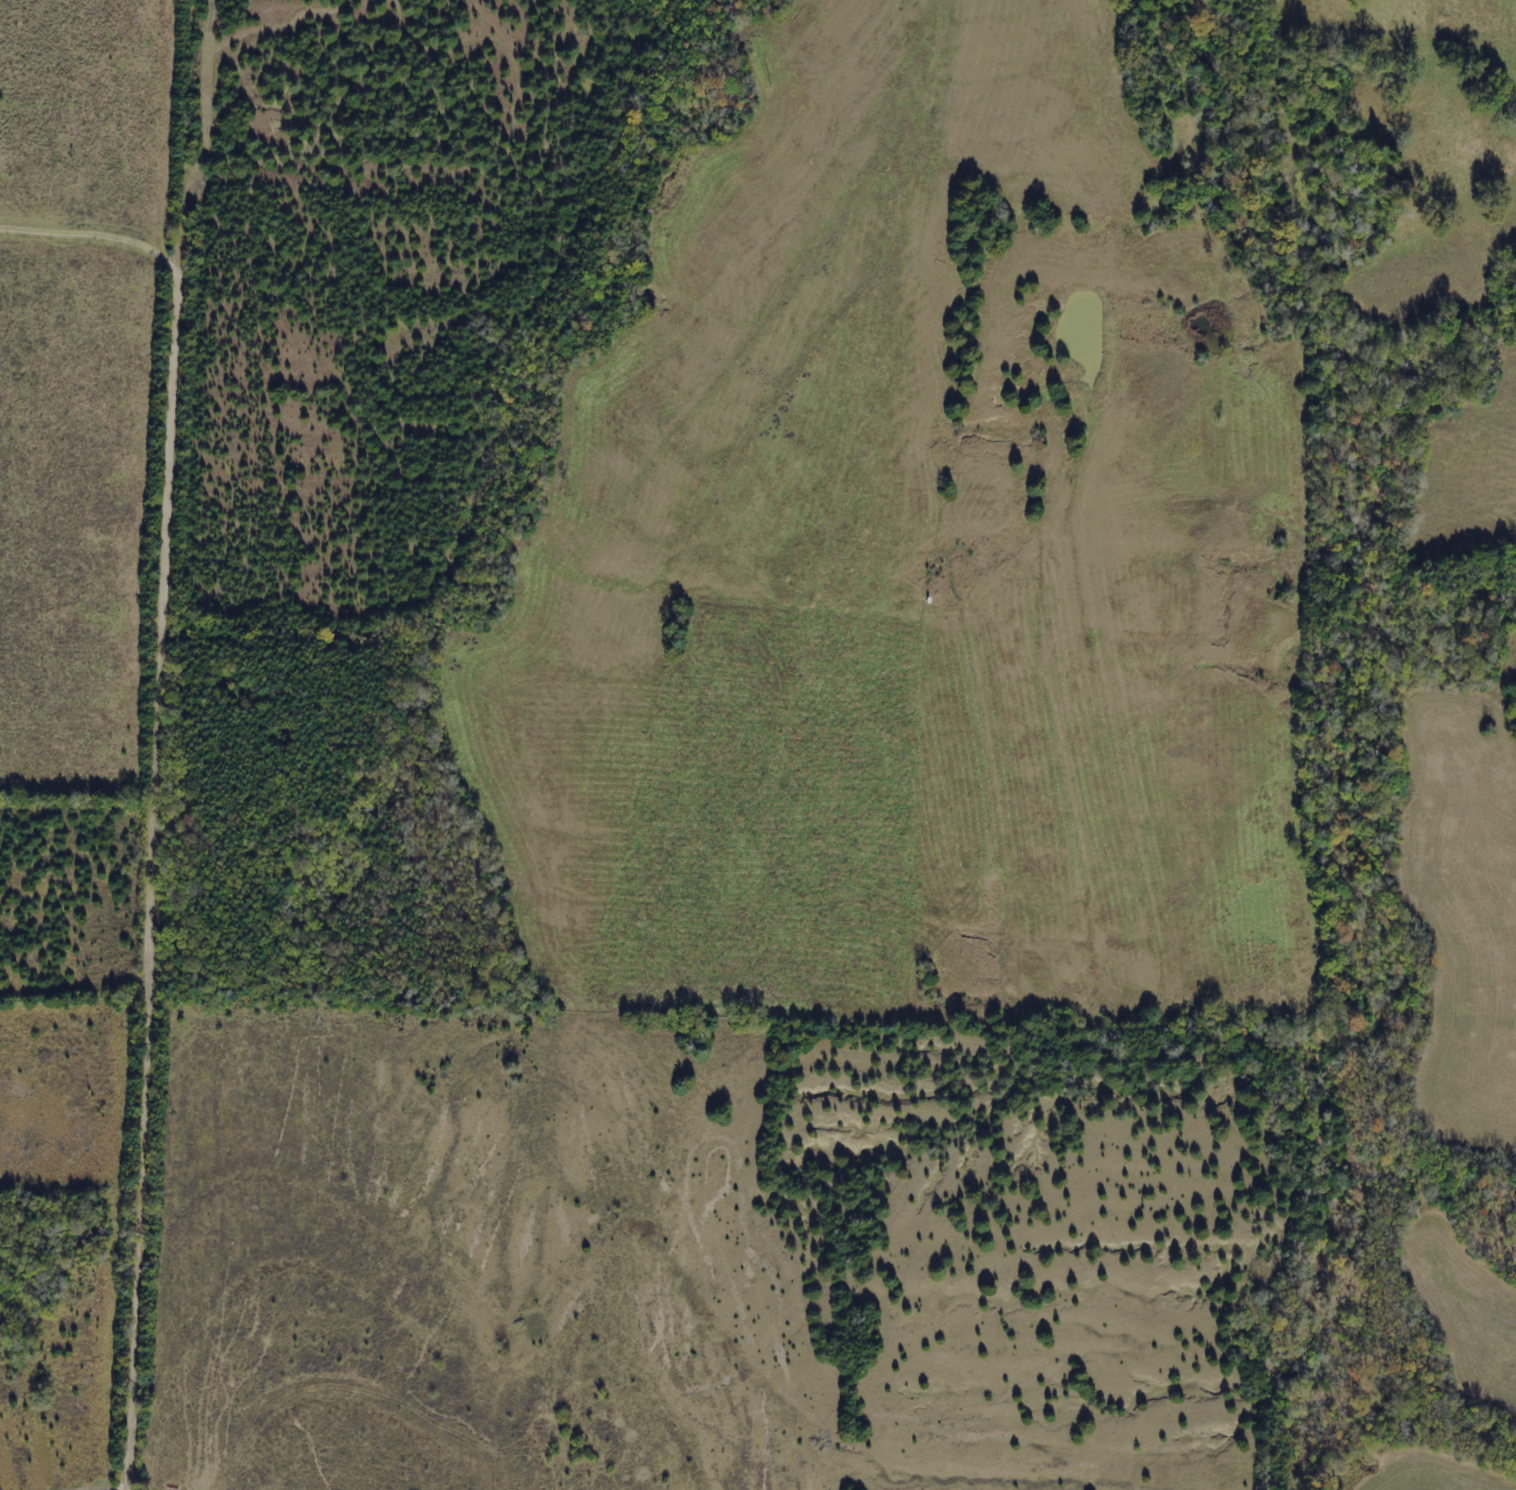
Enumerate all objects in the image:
road: (214, 171)

